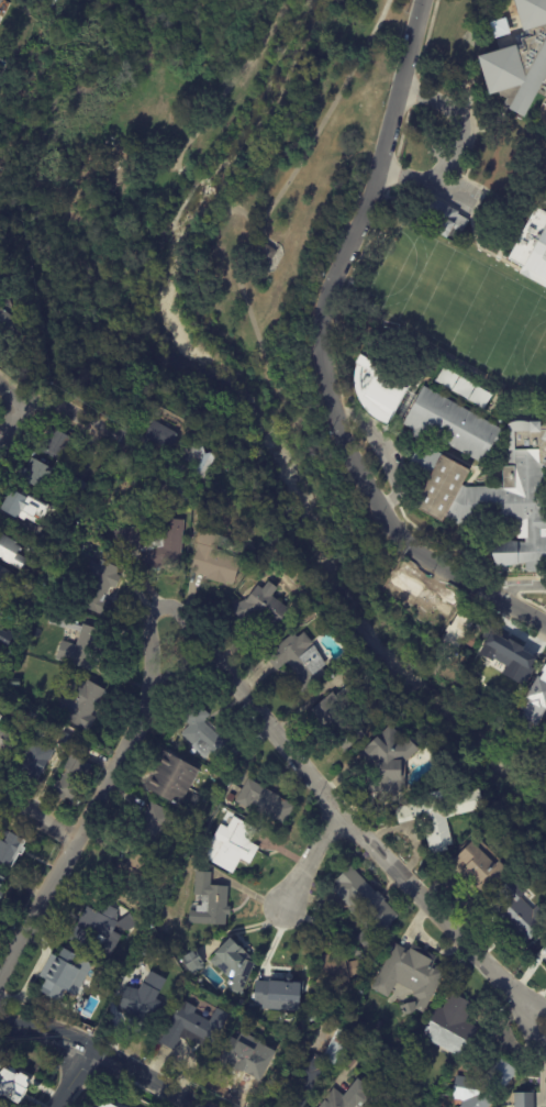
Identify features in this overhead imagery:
building: (1, 3)
building: (44, 4)
building: (519, 58)
road: (225, 92)
building: (545, 99)
road: (456, 146)
road: (377, 168)
road: (215, 193)
building: (545, 203)
road: (247, 214)
building: (441, 217)
building: (532, 251)
building: (265, 253)
road: (243, 287)
park: (287, 303)
building: (8, 322)
building: (168, 380)
building: (461, 387)
road: (11, 392)
building: (381, 394)
building: (149, 411)
road: (70, 413)
road: (11, 422)
building: (161, 434)
building: (59, 443)
road: (385, 453)
building: (83, 458)
building: (201, 458)
building: (36, 474)
building: (444, 479)
building: (78, 485)
building: (172, 501)
building: (24, 508)
road: (389, 513)
building: (49, 535)
building: (248, 543)
building: (60, 544)
building: (154, 544)
building: (35, 549)
building: (11, 552)
building: (215, 558)
building: (0, 566)
building: (3, 575)
building: (99, 585)
road: (520, 587)
building: (23, 591)
building: (35, 597)
building: (263, 606)
building: (459, 636)
building: (7, 640)
building: (79, 641)
building: (301, 661)
building: (511, 663)
building: (345, 673)
building: (15, 684)
building: (535, 702)
building: (81, 704)
building: (12, 709)
building: (19, 713)
building: (0, 716)
building: (0, 718)
building: (29, 722)
building: (337, 723)
building: (209, 738)
building: (66, 740)
building: (4, 744)
building: (82, 748)
building: (35, 761)
building: (387, 761)
building: (172, 778)
building: (70, 779)
road: (100, 796)
building: (231, 798)
building: (266, 802)
building: (441, 812)
road: (41, 815)
road: (344, 824)
building: (155, 830)
building: (233, 845)
building: (10, 849)
road: (310, 862)
building: (479, 866)
building: (132, 883)
building: (2, 888)
building: (211, 903)
building: (366, 907)
building: (522, 911)
building: (1, 923)
building: (127, 923)
building: (98, 931)
building: (191, 961)
building: (233, 963)
building: (62, 973)
building: (335, 974)
building: (412, 975)
building: (278, 993)
building: (141, 1004)
building: (410, 1008)
building: (190, 1023)
building: (453, 1023)
building: (379, 1026)
road: (103, 1055)
building: (242, 1059)
building: (319, 1070)
road: (68, 1076)
building: (481, 1083)
building: (13, 1086)
building: (347, 1097)
building: (527, 1097)
building: (111, 1104)
building: (544, 1104)

